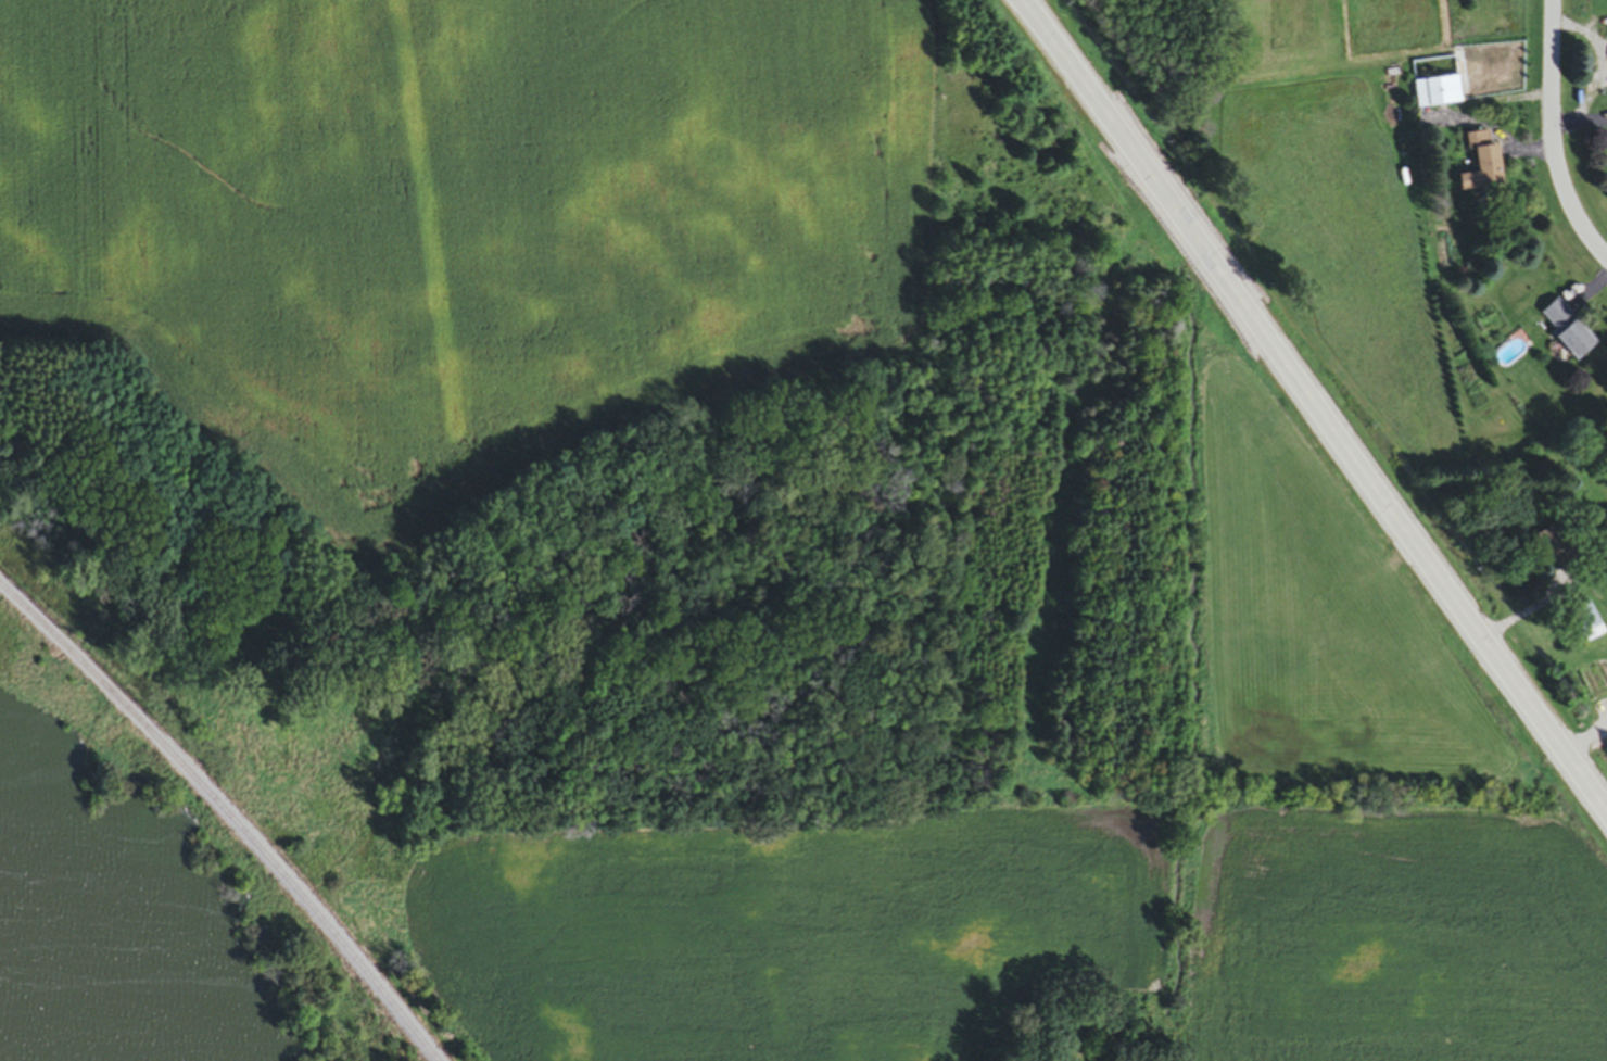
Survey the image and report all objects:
building: (1435, 93)
road: (1554, 135)
building: (1477, 165)
building: (1561, 332)
road: (1316, 405)
building: (1583, 623)
railway: (226, 818)

